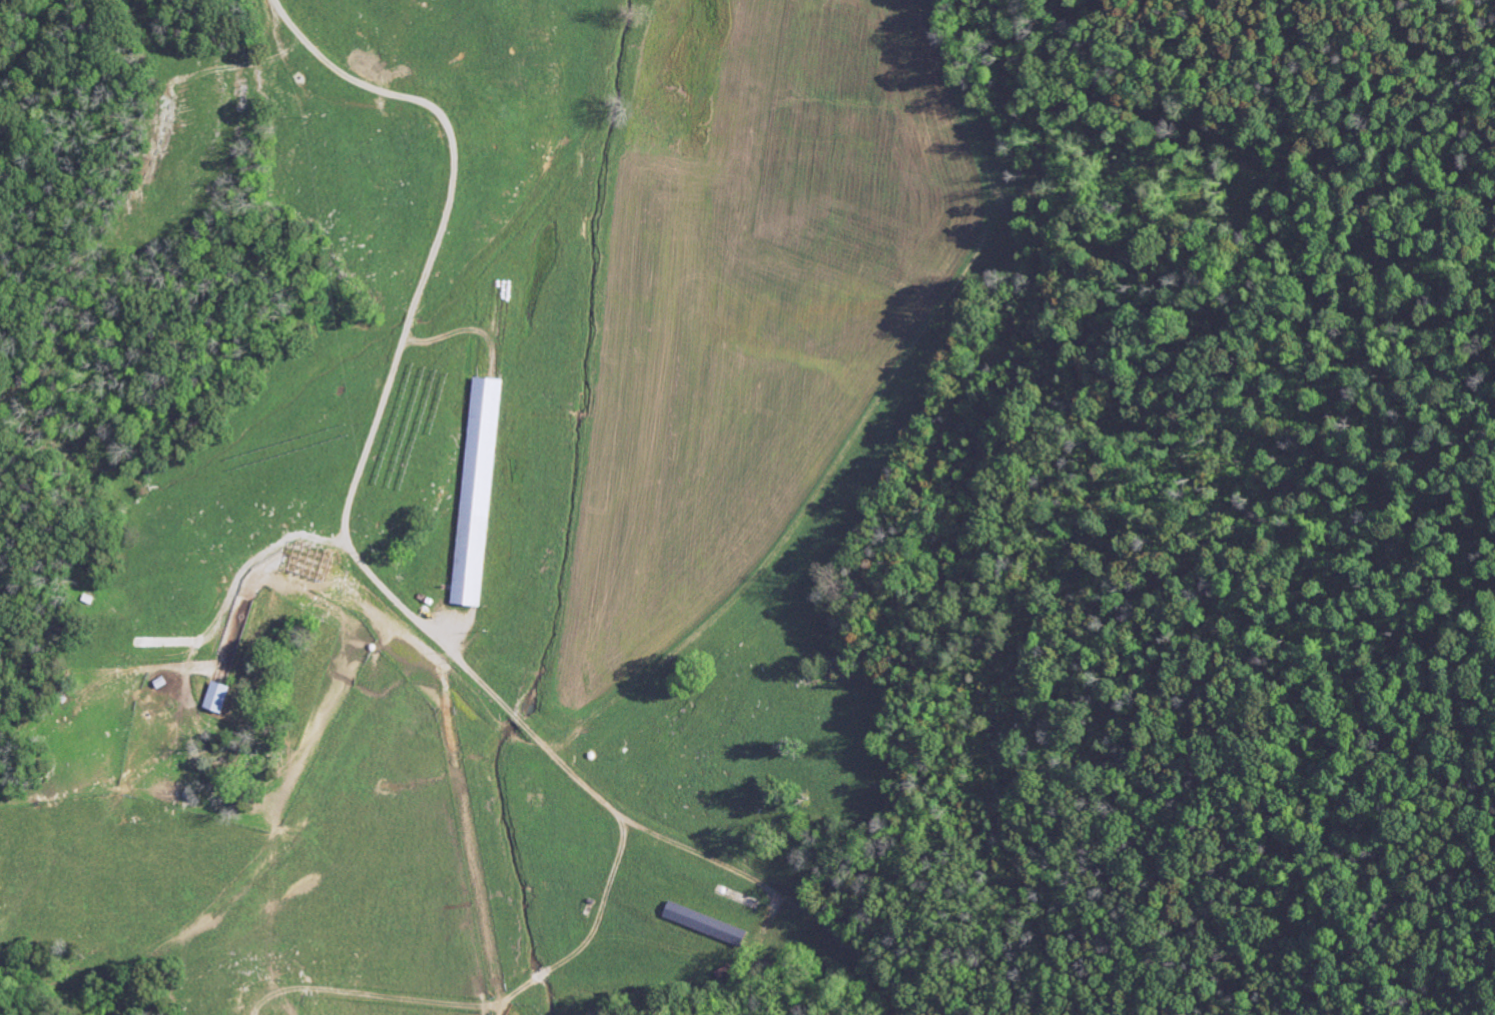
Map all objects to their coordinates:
road: (278, 18)
building: (477, 492)
building: (220, 698)
building: (705, 925)

